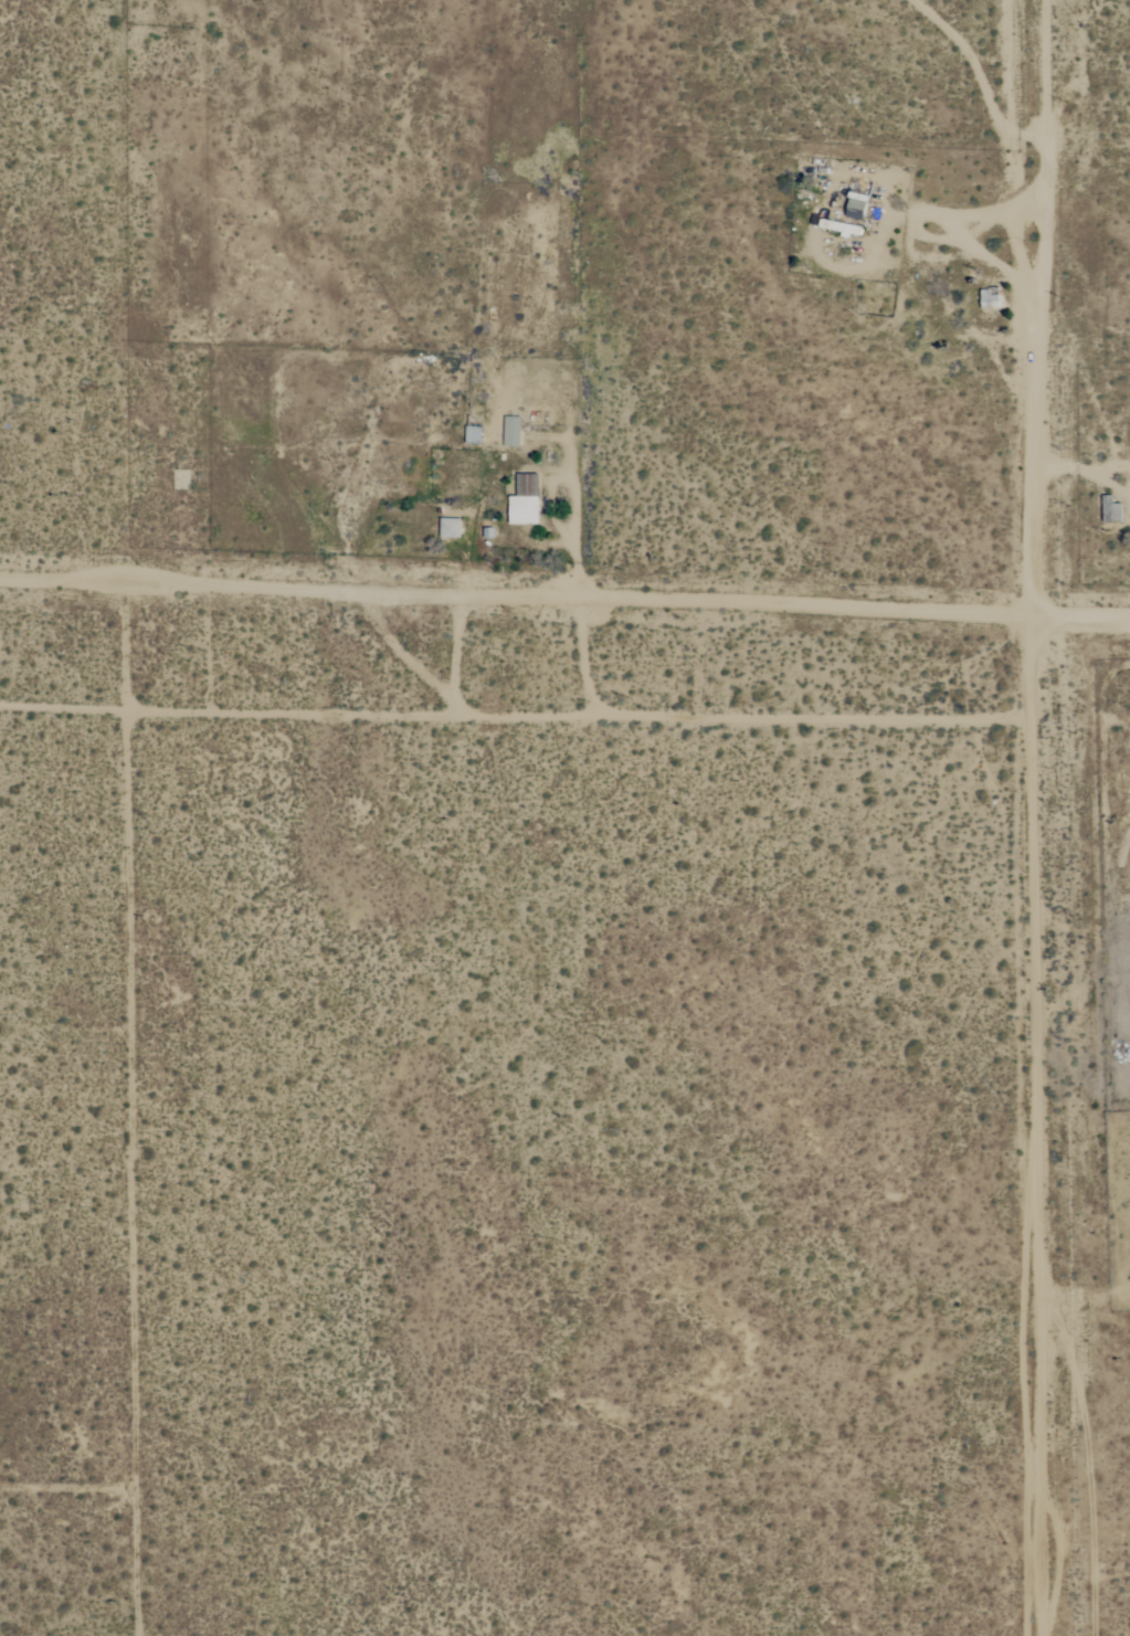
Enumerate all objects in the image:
road: (996, 65)
building: (856, 209)
road: (1017, 307)
road: (562, 599)
road: (129, 1109)
road: (1035, 1126)
road: (64, 1491)

